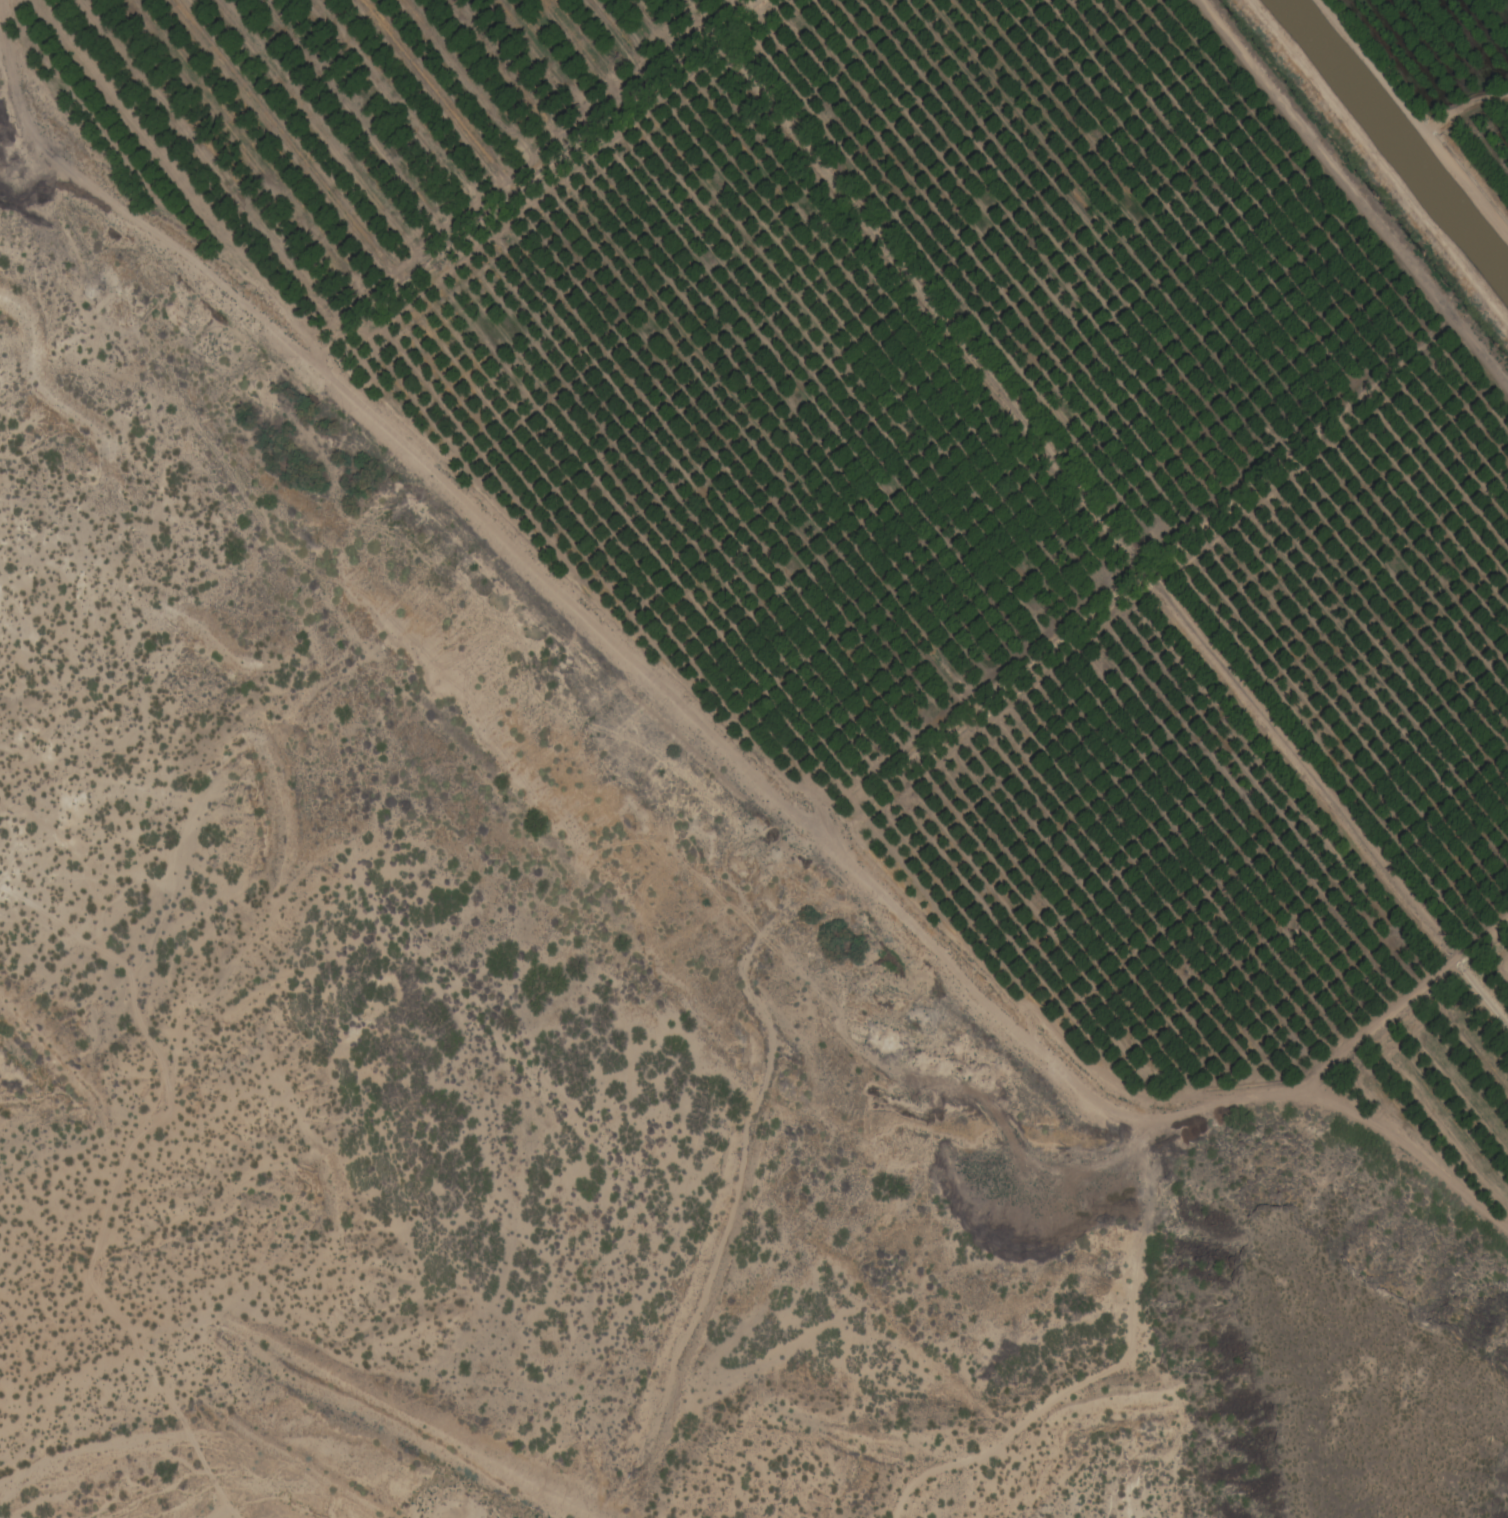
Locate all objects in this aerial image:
road: (1414, 117)
road: (1377, 163)
road: (1354, 193)

